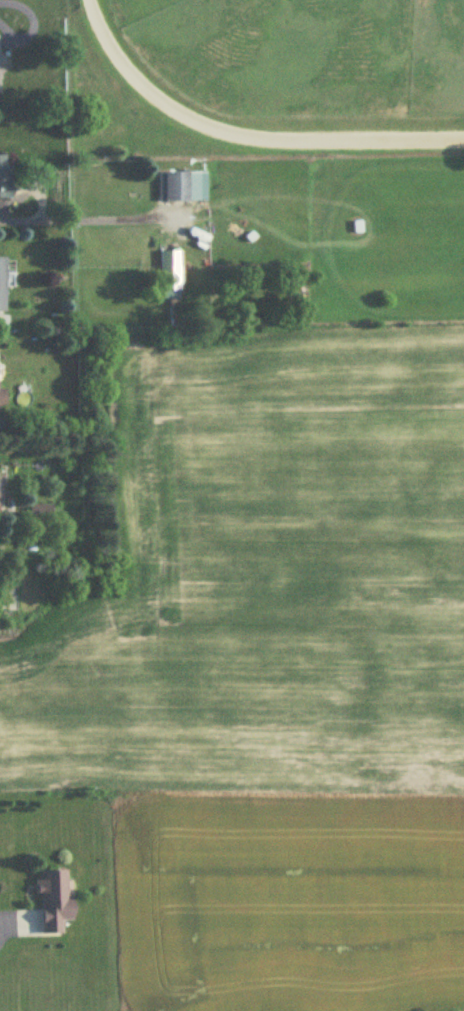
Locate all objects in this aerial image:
road: (32, 26)
road: (249, 131)
building: (4, 177)
building: (173, 188)
road: (83, 220)
building: (169, 260)
building: (3, 285)
building: (3, 397)
building: (41, 512)
building: (54, 901)

